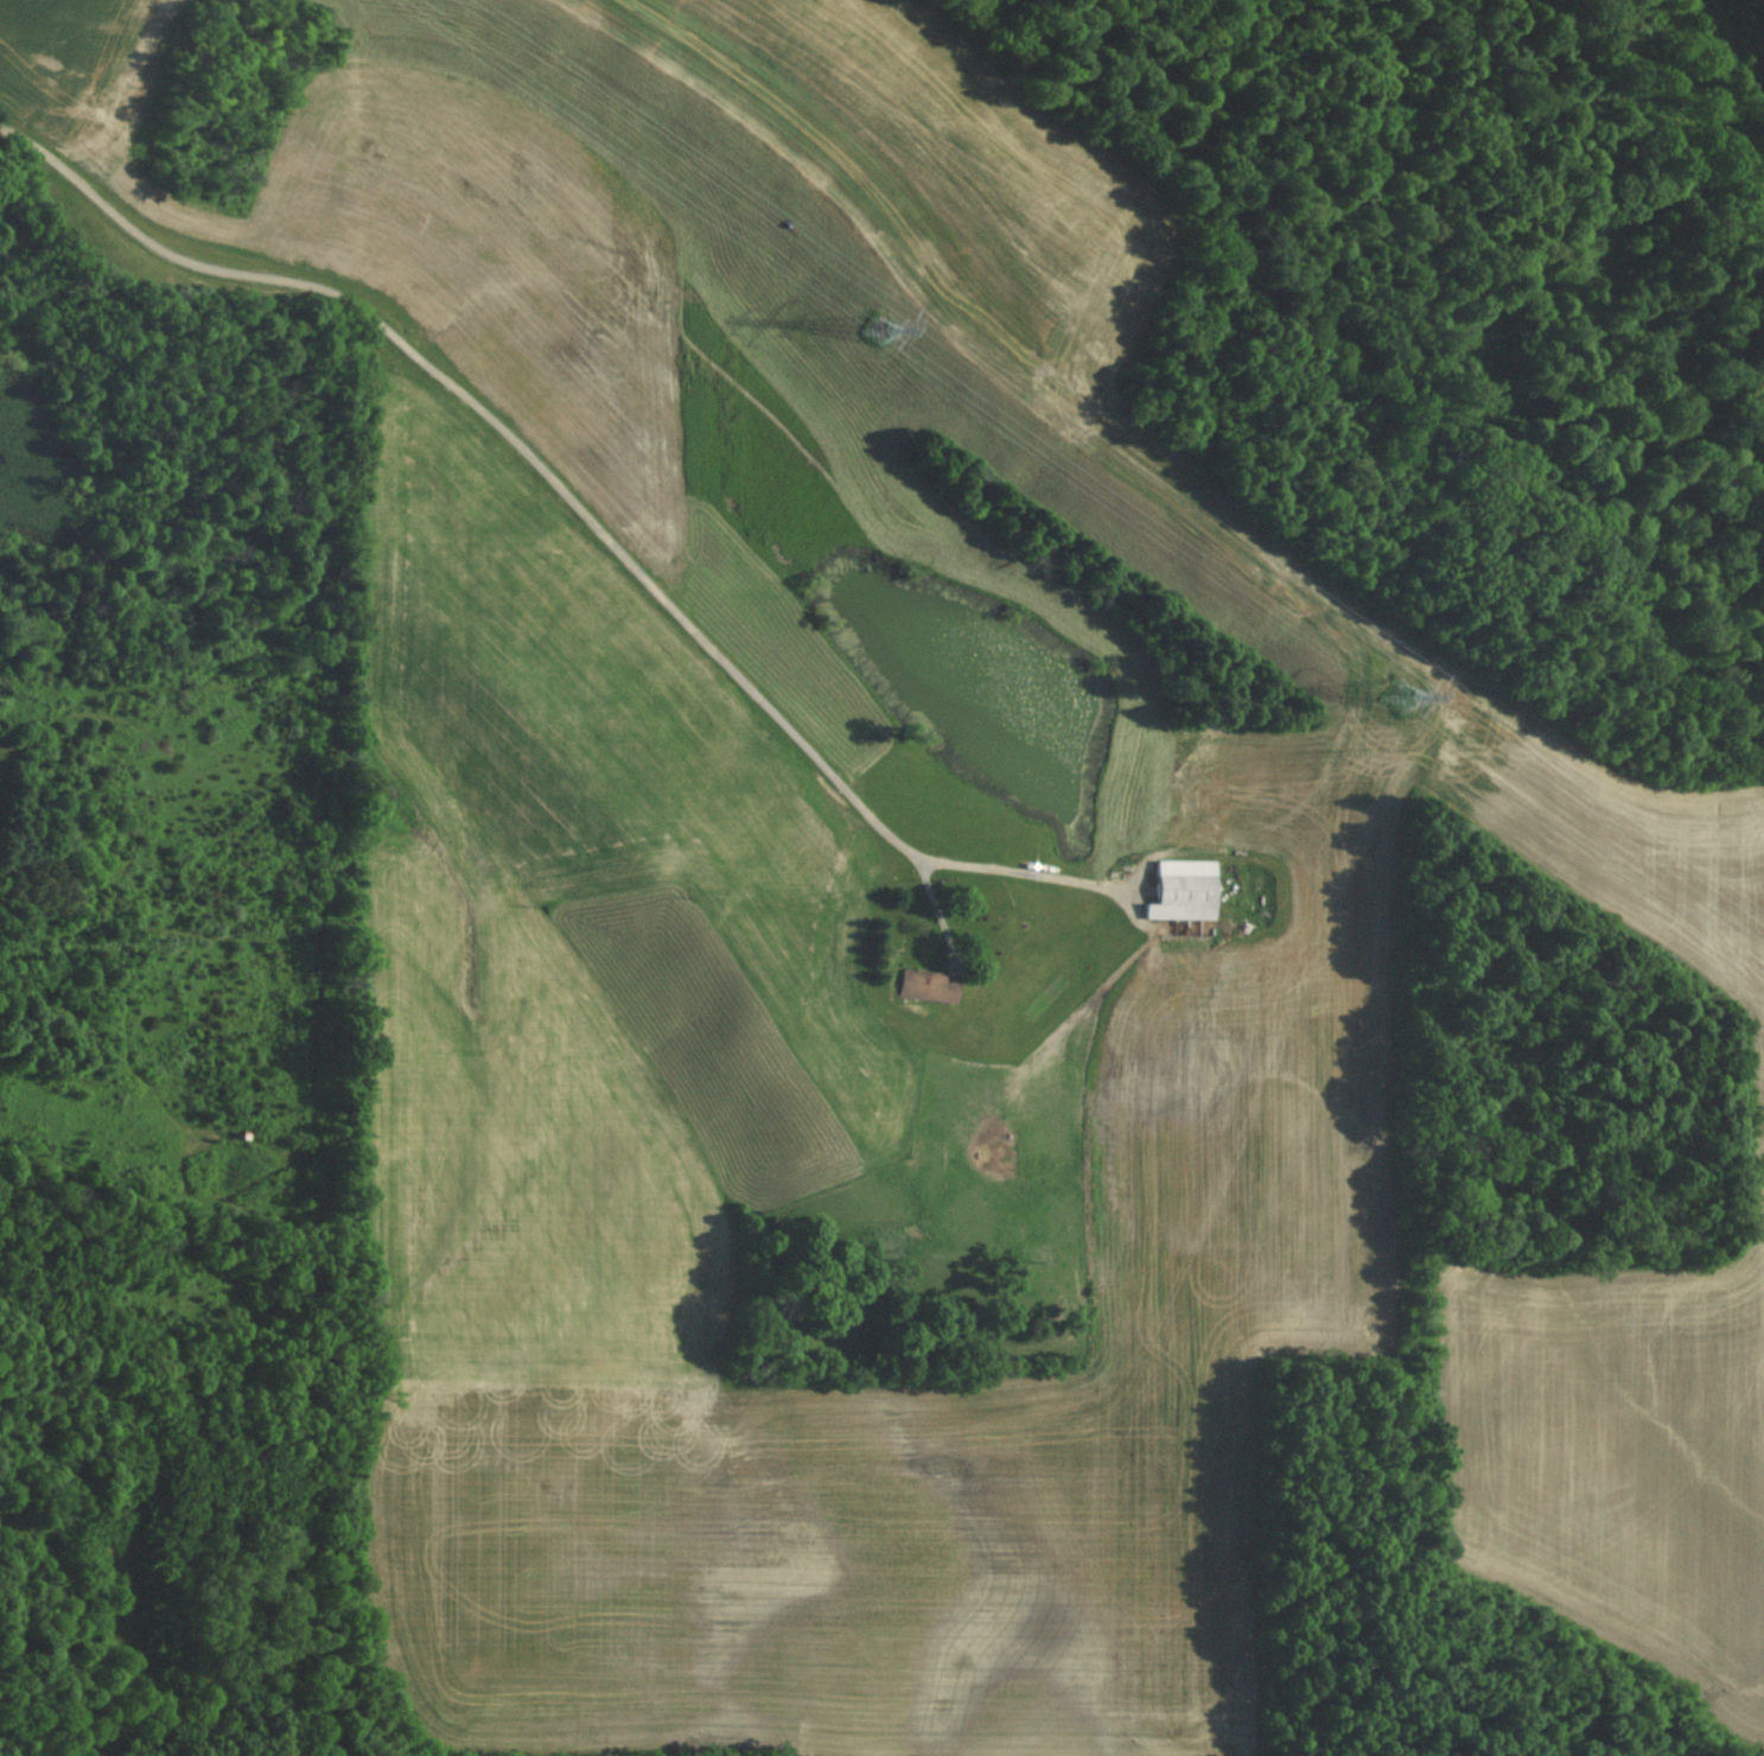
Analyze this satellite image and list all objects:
power tower: (878, 331)
road: (580, 505)
power tower: (1397, 700)
building: (1183, 897)
building: (928, 986)

